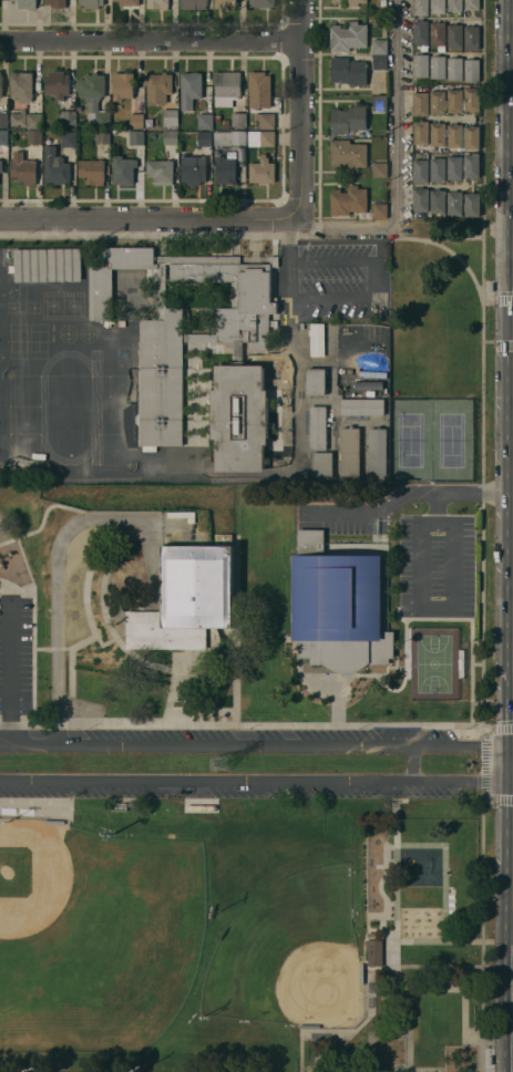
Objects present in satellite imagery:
building: (9, 0)
building: (335, 1)
building: (55, 2)
building: (127, 2)
building: (356, 2)
building: (25, 3)
building: (91, 3)
building: (225, 3)
building: (261, 3)
building: (157, 4)
building: (193, 4)
building: (471, 4)
building: (453, 6)
building: (437, 7)
building: (420, 8)
building: (420, 32)
building: (437, 33)
building: (453, 35)
building: (348, 37)
building: (471, 38)
road: (150, 40)
building: (379, 47)
building: (379, 61)
building: (420, 64)
building: (437, 66)
building: (454, 68)
building: (471, 70)
building: (348, 71)
building: (0, 82)
building: (57, 84)
building: (21, 85)
building: (122, 85)
building: (157, 87)
building: (226, 87)
building: (189, 89)
building: (259, 90)
building: (93, 97)
building: (454, 101)
building: (379, 103)
building: (420, 104)
road: (299, 107)
building: (18, 117)
building: (68, 117)
building: (217, 117)
building: (3, 118)
building: (170, 118)
building: (238, 120)
building: (265, 120)
building: (348, 120)
building: (33, 121)
building: (136, 121)
building: (204, 121)
building: (225, 123)
building: (420, 132)
building: (454, 135)
building: (3, 136)
building: (33, 136)
building: (102, 136)
building: (170, 136)
building: (135, 137)
building: (204, 137)
building: (229, 137)
building: (68, 138)
building: (260, 138)
building: (348, 154)
road: (394, 164)
building: (1, 165)
building: (54, 166)
building: (471, 166)
building: (454, 167)
building: (22, 169)
building: (123, 169)
building: (193, 169)
building: (224, 169)
building: (380, 169)
building: (437, 169)
building: (92, 171)
building: (160, 171)
building: (260, 171)
building: (420, 171)
building: (420, 199)
building: (348, 200)
building: (437, 200)
building: (454, 203)
building: (471, 204)
building: (378, 209)
road: (145, 217)
building: (30, 265)
building: (64, 265)
building: (161, 288)
building: (100, 293)
building: (238, 296)
building: (317, 340)
building: (223, 341)
building: (351, 354)
building: (378, 354)
building: (161, 380)
building: (315, 382)
building: (361, 406)
building: (238, 419)
building: (317, 429)
building: (349, 453)
building: (377, 454)
building: (322, 465)
road: (461, 494)
road: (372, 514)
building: (187, 598)
road: (438, 605)
building: (337, 607)
road: (55, 625)
road: (8, 676)
park: (254, 744)
road: (256, 744)
power tower: (223, 763)
road: (415, 764)
road: (256, 782)
building: (133, 804)
building: (373, 951)

